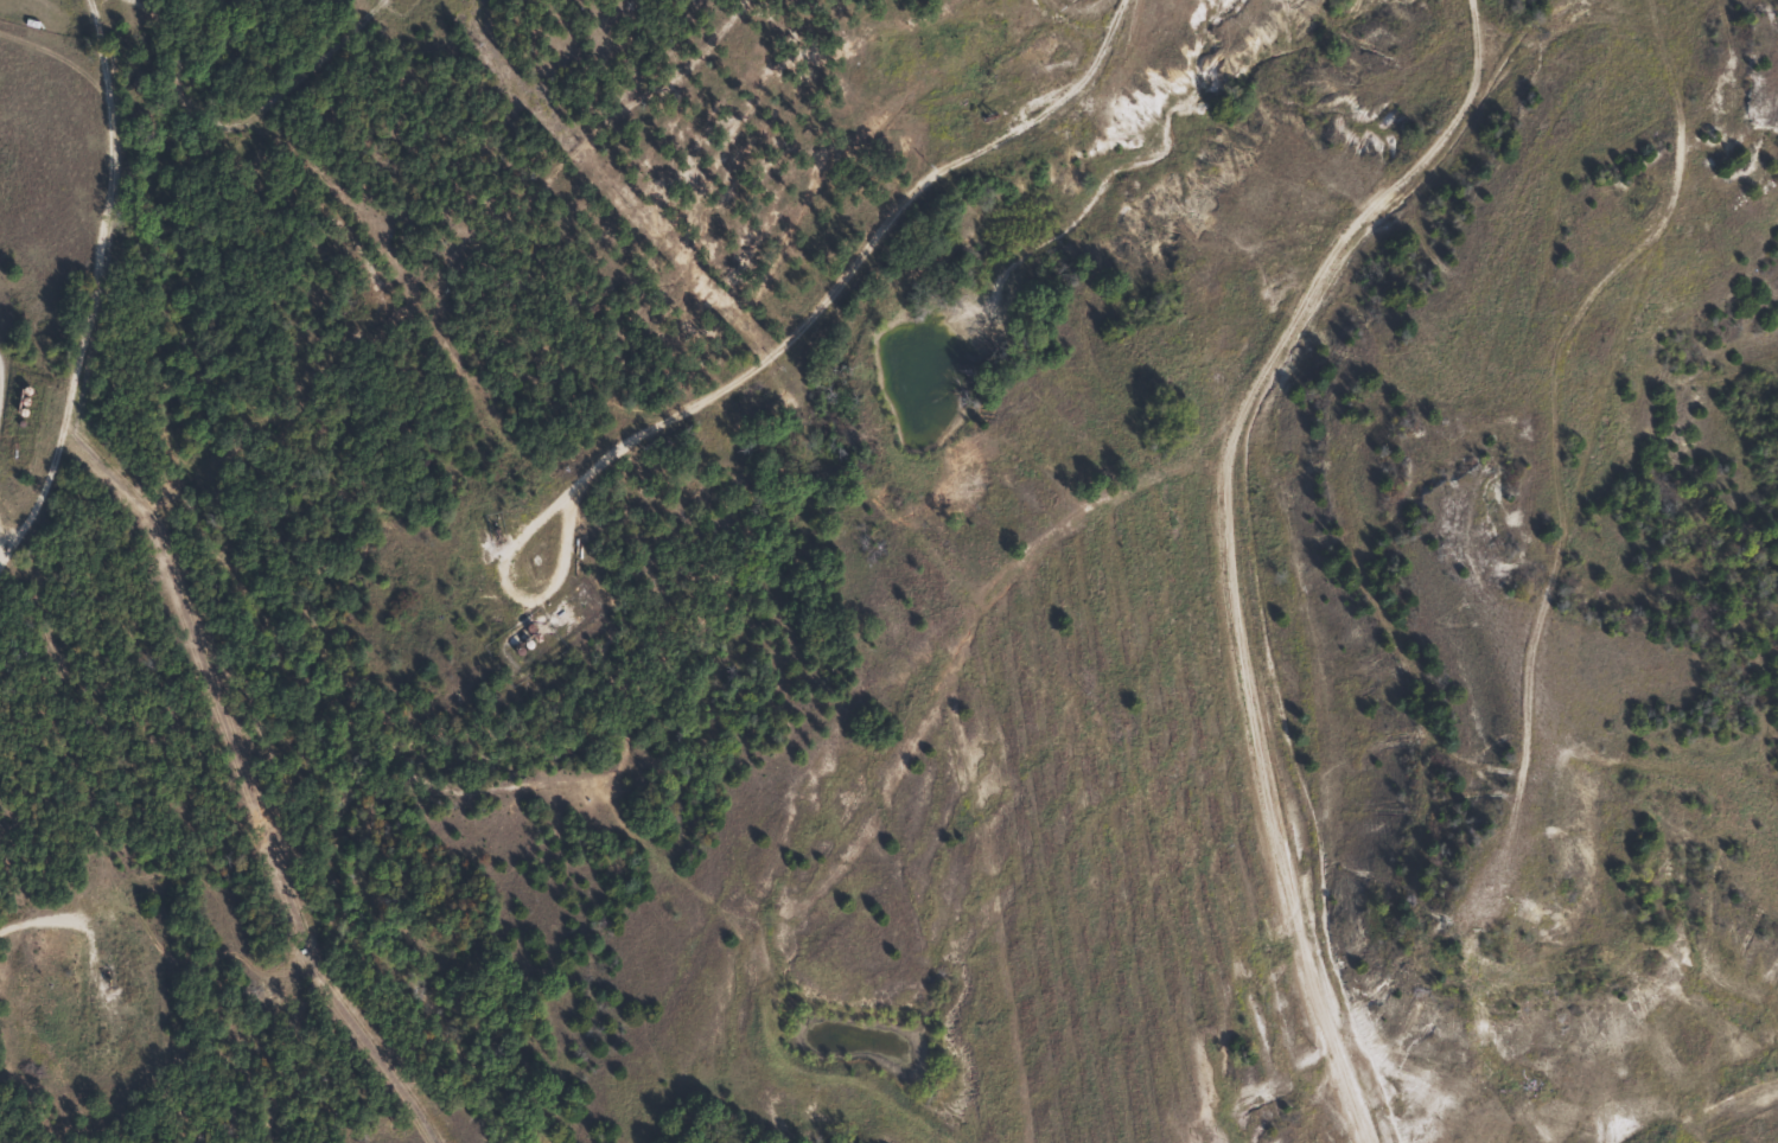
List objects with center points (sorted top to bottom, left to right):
road: (1243, 505)
road: (52, 509)

